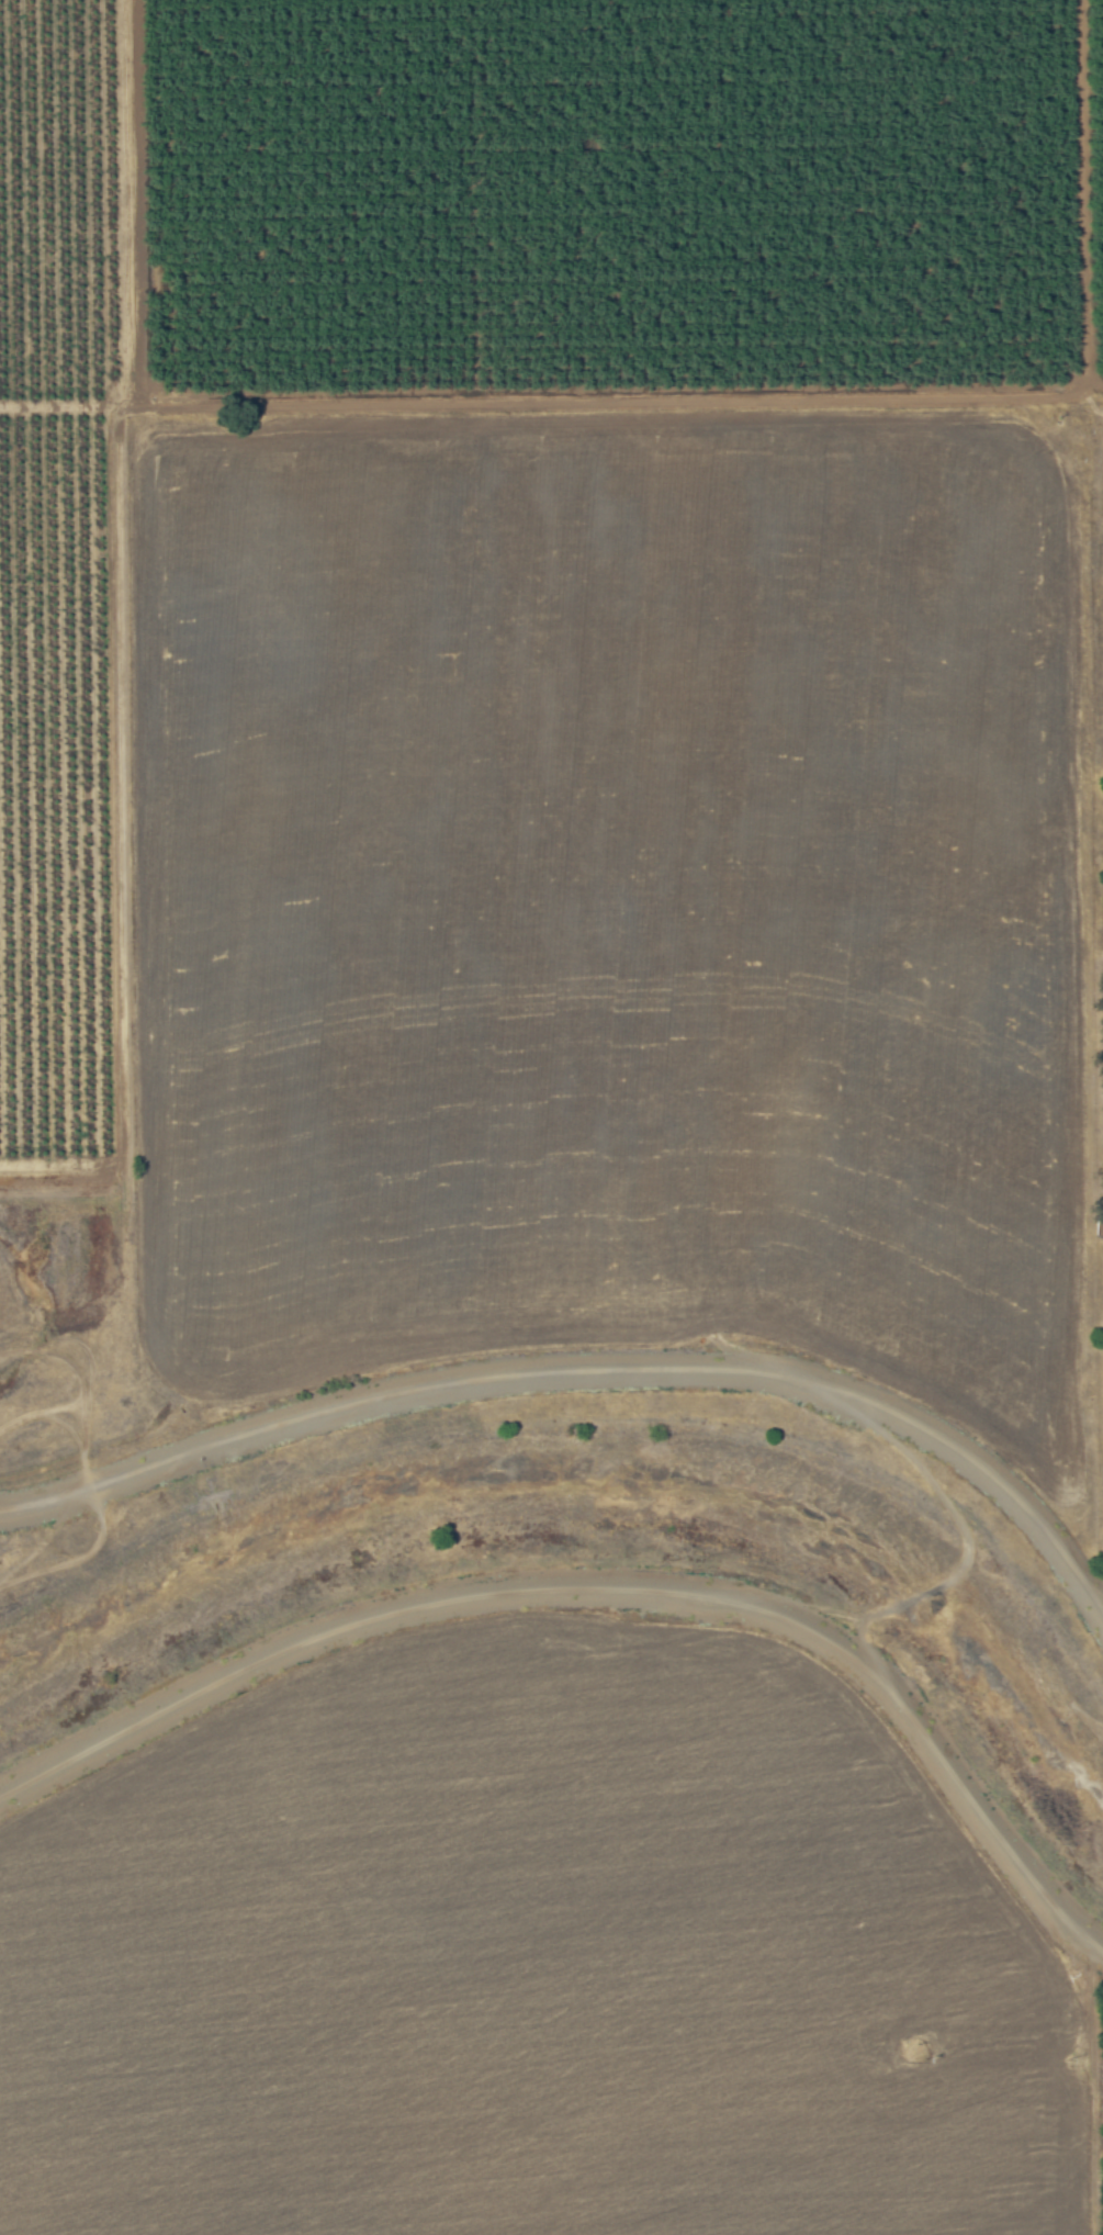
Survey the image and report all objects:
crop: (1093, 207)
road: (592, 1363)
road: (607, 1583)
road: (1092, 2087)

